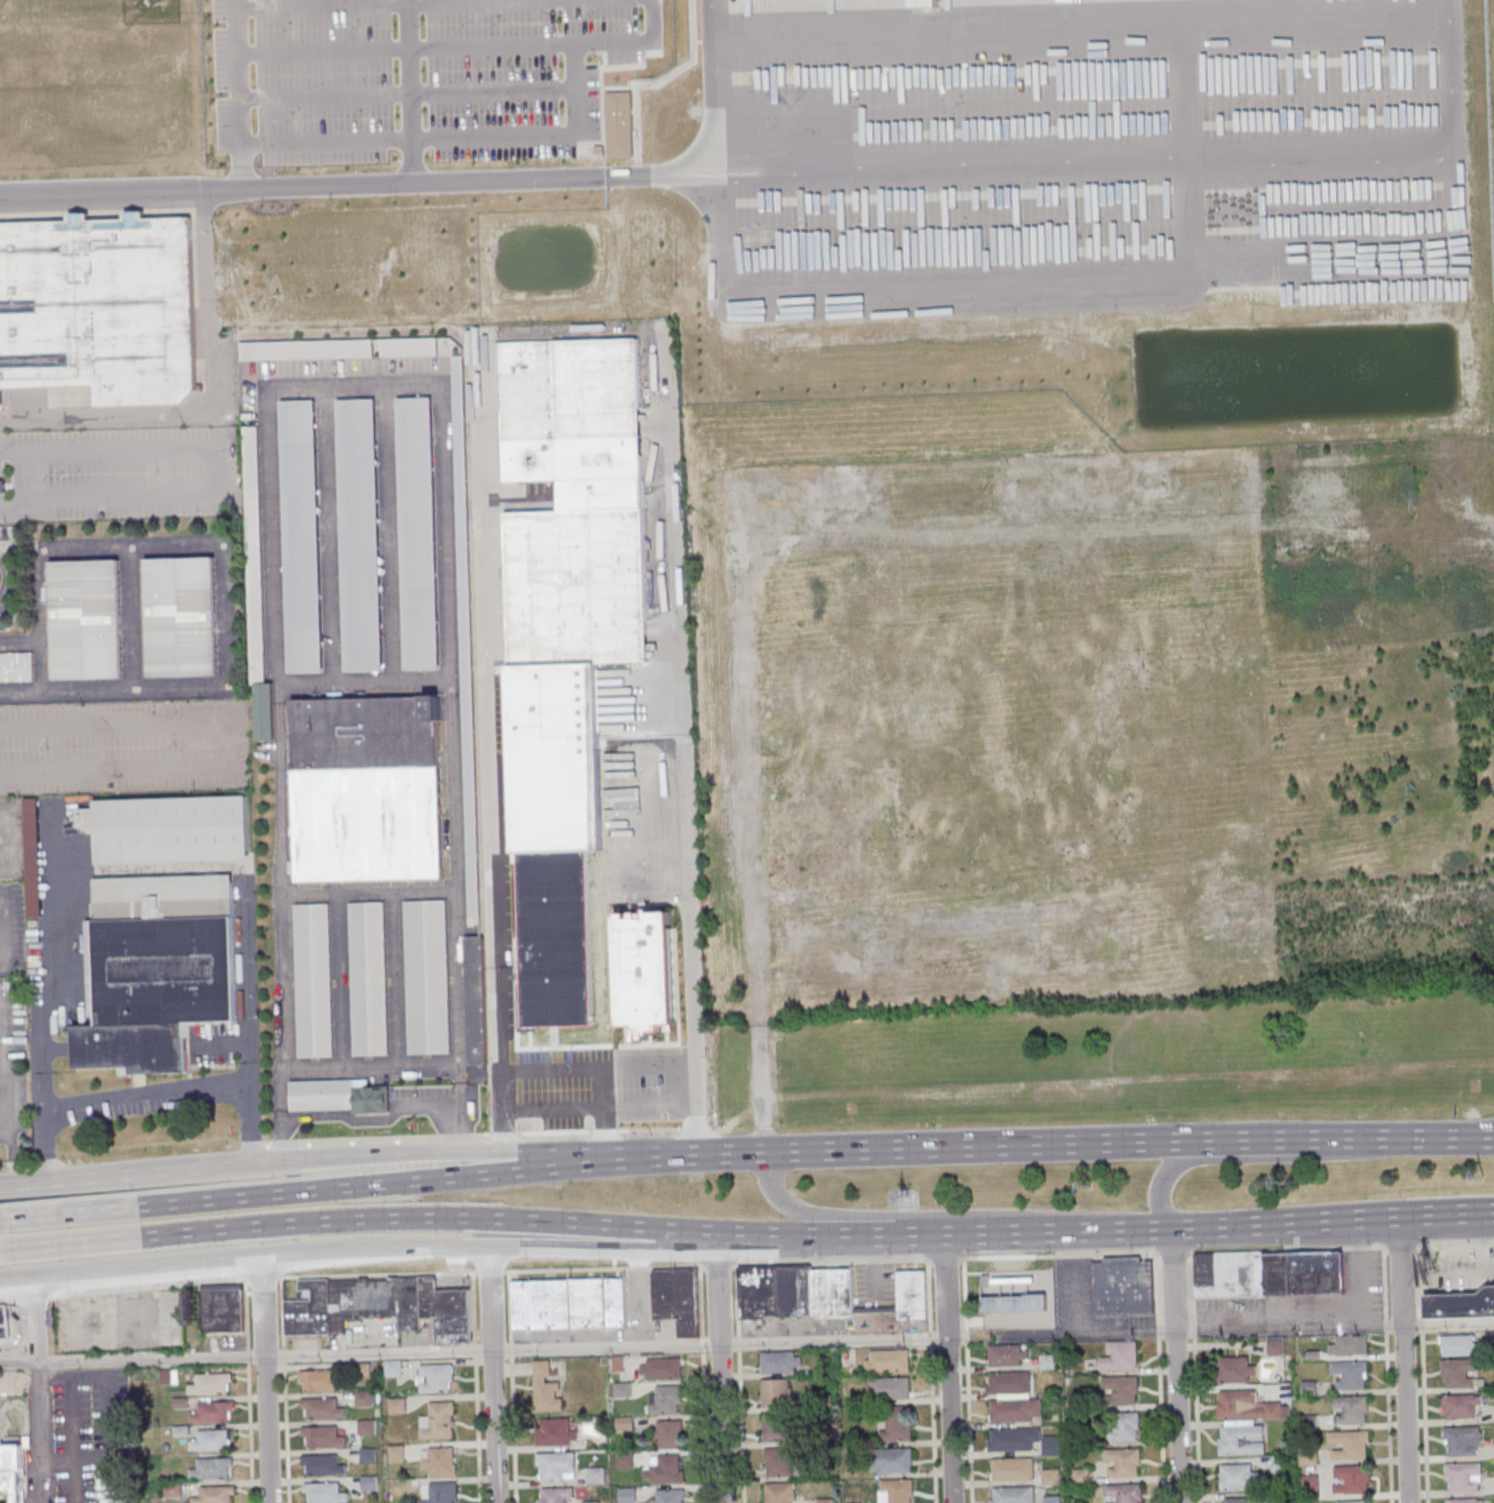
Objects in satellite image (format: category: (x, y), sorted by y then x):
road: (373, 3)
building: (923, 3)
road: (650, 22)
road: (1080, 27)
road: (444, 49)
parking lot: (415, 77)
road: (410, 93)
road: (237, 96)
road: (407, 96)
road: (453, 138)
road: (1188, 154)
road: (1084, 167)
road: (660, 177)
road: (404, 187)
road: (1082, 290)
road: (211, 306)
building: (99, 307)
road: (569, 316)
building: (409, 346)
building: (306, 350)
road: (355, 384)
road: (219, 474)
building: (2, 485)
building: (573, 502)
building: (418, 533)
road: (391, 534)
building: (300, 536)
road: (330, 536)
building: (359, 536)
road: (270, 539)
road: (201, 546)
building: (254, 554)
road: (2, 575)
road: (132, 616)
building: (180, 616)
road: (40, 619)
building: (85, 619)
building: (466, 636)
road: (20, 643)
building: (15, 666)
road: (367, 685)
road: (114, 686)
building: (263, 710)
road: (452, 723)
road: (229, 746)
building: (366, 787)
road: (281, 791)
building: (171, 829)
road: (12, 839)
building: (32, 856)
road: (241, 880)
road: (368, 892)
road: (4, 928)
building: (555, 938)
building: (155, 969)
building: (646, 972)
building: (425, 976)
building: (367, 978)
road: (395, 979)
building: (311, 980)
road: (339, 980)
road: (280, 982)
road: (57, 995)
building: (476, 1000)
road: (375, 1066)
road: (588, 1066)
road: (145, 1094)
building: (338, 1095)
road: (598, 1111)
road: (363, 1118)
road: (250, 1121)
road: (1446, 1137)
road: (1301, 1139)
road: (44, 1145)
road: (983, 1146)
road: (444, 1151)
road: (728, 1153)
road: (9, 1154)
road: (1250, 1158)
power tower: (1483, 1175)
road: (97, 1176)
power tower: (1282, 1180)
road: (348, 1186)
power tower: (1089, 1187)
power tower: (906, 1199)
road: (946, 1213)
road: (1, 1219)
road: (360, 1219)
road: (1105, 1230)
road: (488, 1246)
road: (2, 1250)
road: (770, 1263)
road: (129, 1270)
road: (1399, 1270)
building: (1270, 1273)
road: (1172, 1279)
building: (1123, 1285)
building: (797, 1291)
road: (717, 1292)
building: (912, 1294)
road: (35, 1298)
building: (678, 1298)
road: (11, 1301)
building: (569, 1302)
building: (1015, 1303)
building: (1460, 1304)
building: (379, 1306)
building: (223, 1308)
building: (3, 1323)
road: (747, 1343)
building: (1458, 1344)
building: (1276, 1345)
building: (1349, 1345)
building: (1009, 1356)
building: (1121, 1357)
building: (782, 1361)
building: (888, 1361)
building: (1048, 1362)
road: (948, 1368)
building: (661, 1369)
building: (1235, 1369)
building: (1459, 1372)
road: (491, 1374)
building: (1350, 1374)
building: (167, 1375)
road: (91, 1377)
building: (435, 1378)
road: (263, 1381)
building: (320, 1381)
building: (1009, 1383)
building: (211, 1384)
building: (546, 1387)
building: (891, 1389)
road: (37, 1391)
building: (1120, 1391)
building: (777, 1393)
building: (364, 1399)
building: (666, 1401)
building: (1460, 1405)
building: (322, 1409)
building: (1351, 1409)
building: (1016, 1410)
building: (213, 1413)
road: (1406, 1413)
road: (1176, 1416)
building: (438, 1421)
building: (1245, 1421)
road: (721, 1423)
building: (897, 1425)
building: (367, 1427)
building: (1125, 1427)
building: (777, 1428)
building: (556, 1432)
building: (670, 1435)
building: (322, 1437)
building: (1462, 1440)
building: (211, 1441)
building: (1023, 1441)
building: (1350, 1444)
building: (396, 1453)
building: (1308, 1457)
building: (439, 1461)
building: (893, 1461)
building: (780, 1462)
building: (1124, 1463)
building: (320, 1465)
building: (556, 1466)
building: (1013, 1469)
building: (12, 1470)
building: (211, 1470)
building: (667, 1470)
building: (1238, 1476)
building: (1463, 1477)
building: (1052, 1478)
building: (1352, 1479)
road: (75, 1481)
building: (1310, 1486)
building: (897, 1491)
building: (441, 1492)
building: (324, 1493)
building: (780, 1493)
building: (1124, 1493)
building: (215, 1495)
building: (555, 1495)
building: (629, 1495)
building: (1013, 1495)
building: (669, 1496)
building: (1239, 1499)
building: (1052, 1500)
building: (1463, 1500)
building: (1354, 1502)

